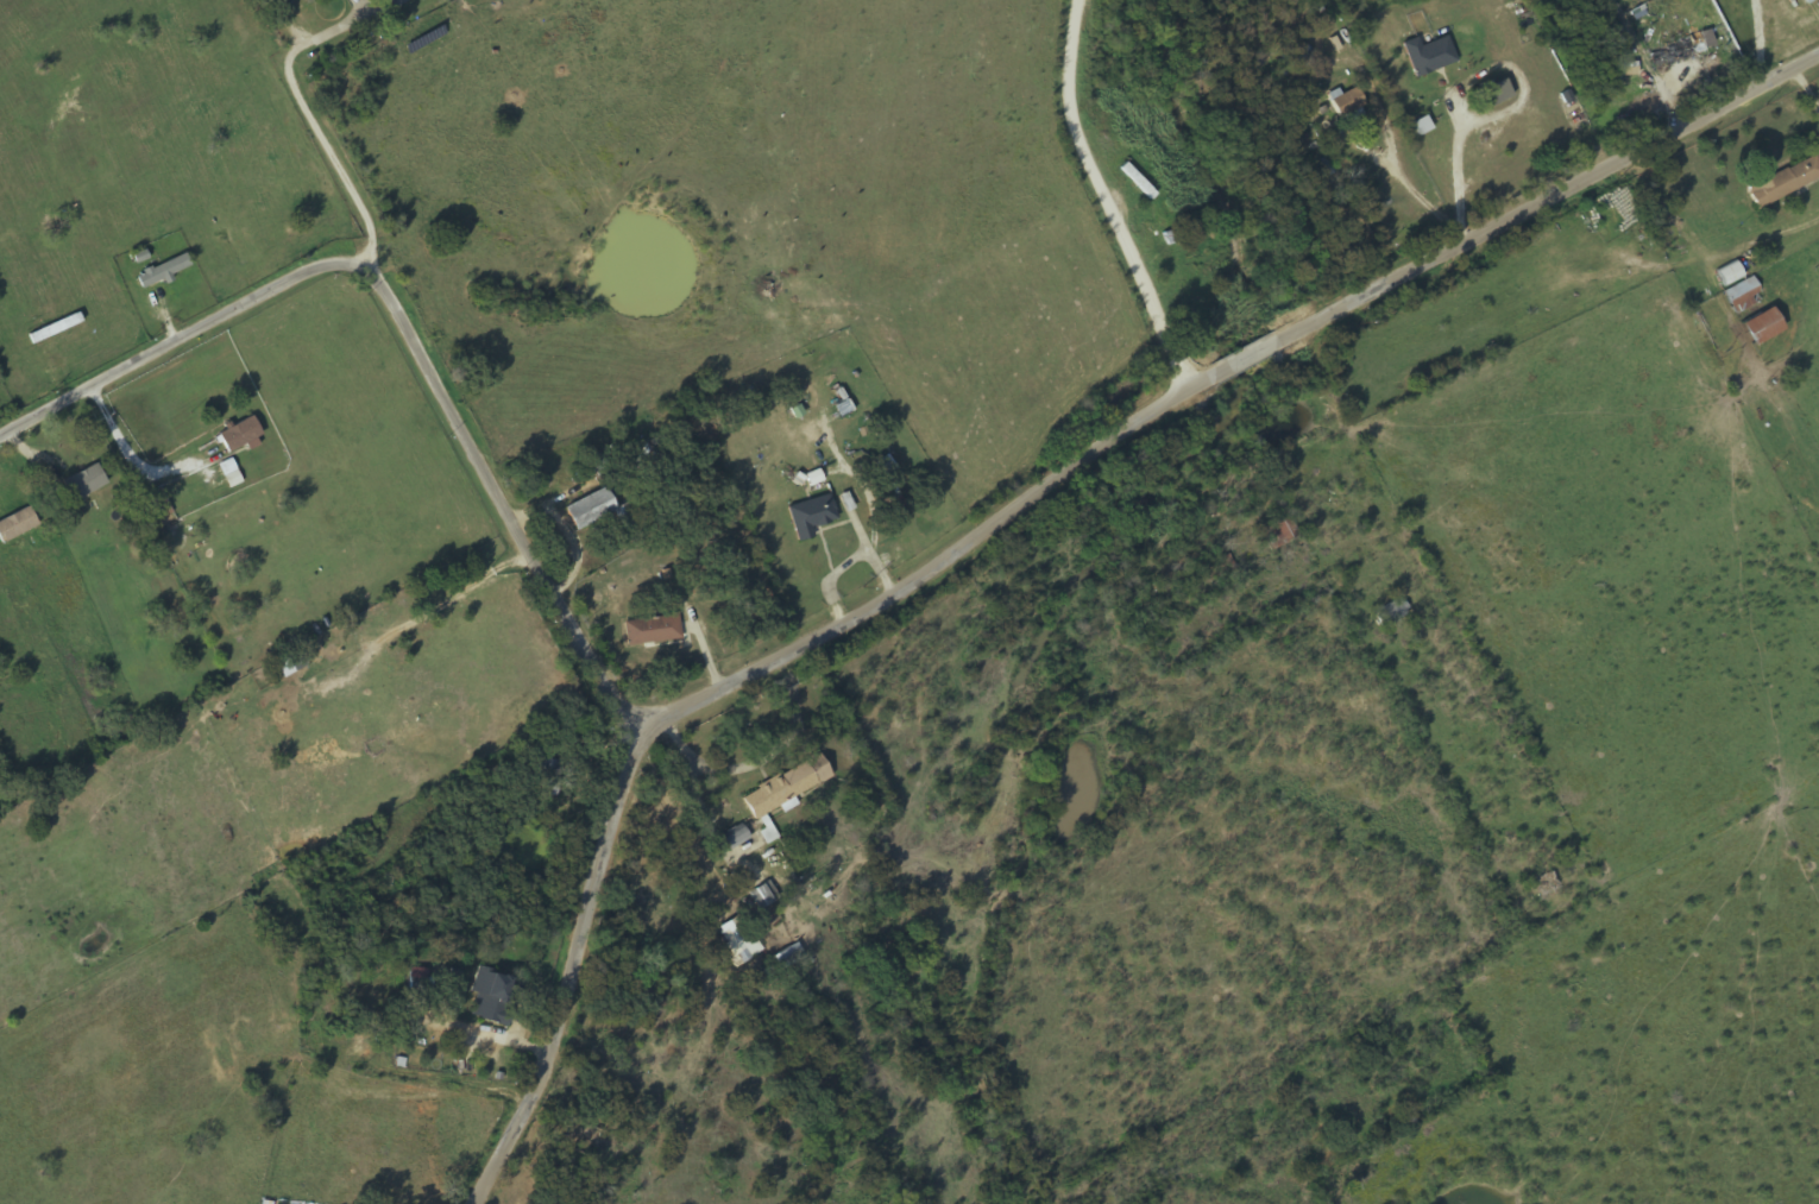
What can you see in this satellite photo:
building: (395, 2)
building: (1670, 52)
building: (1428, 55)
building: (1297, 59)
building: (1496, 93)
building: (1346, 102)
building: (1138, 182)
building: (1785, 182)
road: (1104, 198)
road: (413, 253)
building: (163, 271)
building: (1729, 275)
building: (1743, 295)
road: (399, 314)
building: (1761, 326)
road: (492, 401)
building: (239, 435)
building: (550, 465)
building: (82, 480)
building: (156, 506)
building: (599, 511)
road: (1386, 512)
building: (812, 517)
road: (1011, 518)
building: (17, 524)
building: (1280, 534)
building: (1392, 612)
building: (652, 631)
building: (547, 777)
road: (1296, 777)
building: (786, 787)
building: (735, 839)
road: (479, 875)
building: (1548, 887)
building: (763, 895)
building: (739, 939)
building: (787, 958)
building: (421, 988)
building: (361, 995)
building: (495, 997)

